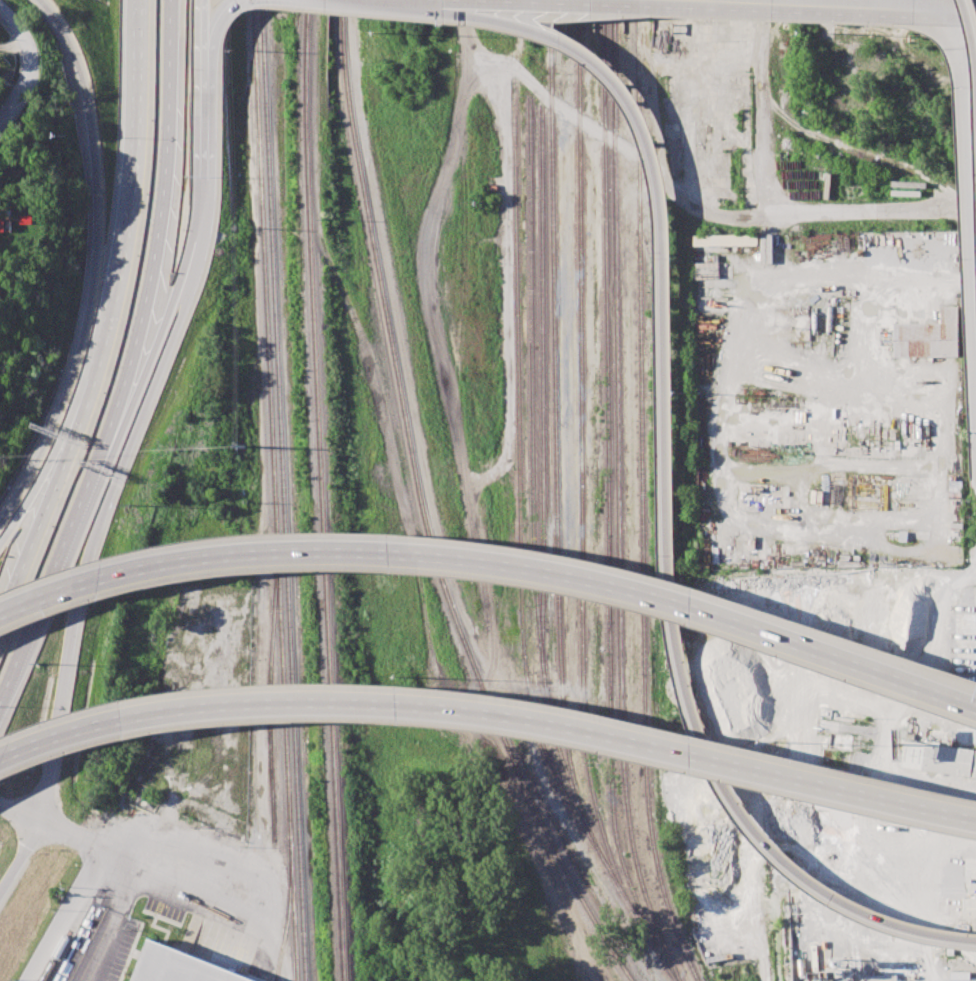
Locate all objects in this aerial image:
road: (883, 4)
road: (729, 9)
road: (220, 14)
road: (972, 14)
road: (204, 17)
railway: (511, 42)
road: (14, 46)
road: (32, 66)
road: (763, 109)
road: (205, 130)
road: (598, 130)
road: (128, 200)
road: (967, 206)
road: (873, 214)
road: (660, 216)
building: (2, 225)
building: (725, 240)
building: (906, 244)
road: (96, 266)
road: (164, 328)
building: (930, 337)
road: (131, 366)
railway: (541, 390)
railway: (554, 411)
railway: (581, 460)
road: (47, 469)
railway: (532, 484)
railway: (607, 485)
railway: (275, 490)
railway: (284, 490)
railway: (321, 490)
railway: (617, 494)
railway: (642, 494)
railway: (421, 510)
road: (45, 511)
road: (101, 517)
road: (473, 534)
railway: (520, 551)
road: (494, 561)
railway: (270, 690)
road: (489, 713)
building: (938, 758)
road: (741, 810)
road: (522, 824)
road: (53, 826)
road: (20, 856)
road: (185, 882)
building: (969, 908)
railway: (288, 913)
road: (67, 915)
road: (106, 921)
road: (279, 946)
railway: (55, 955)
building: (182, 966)

